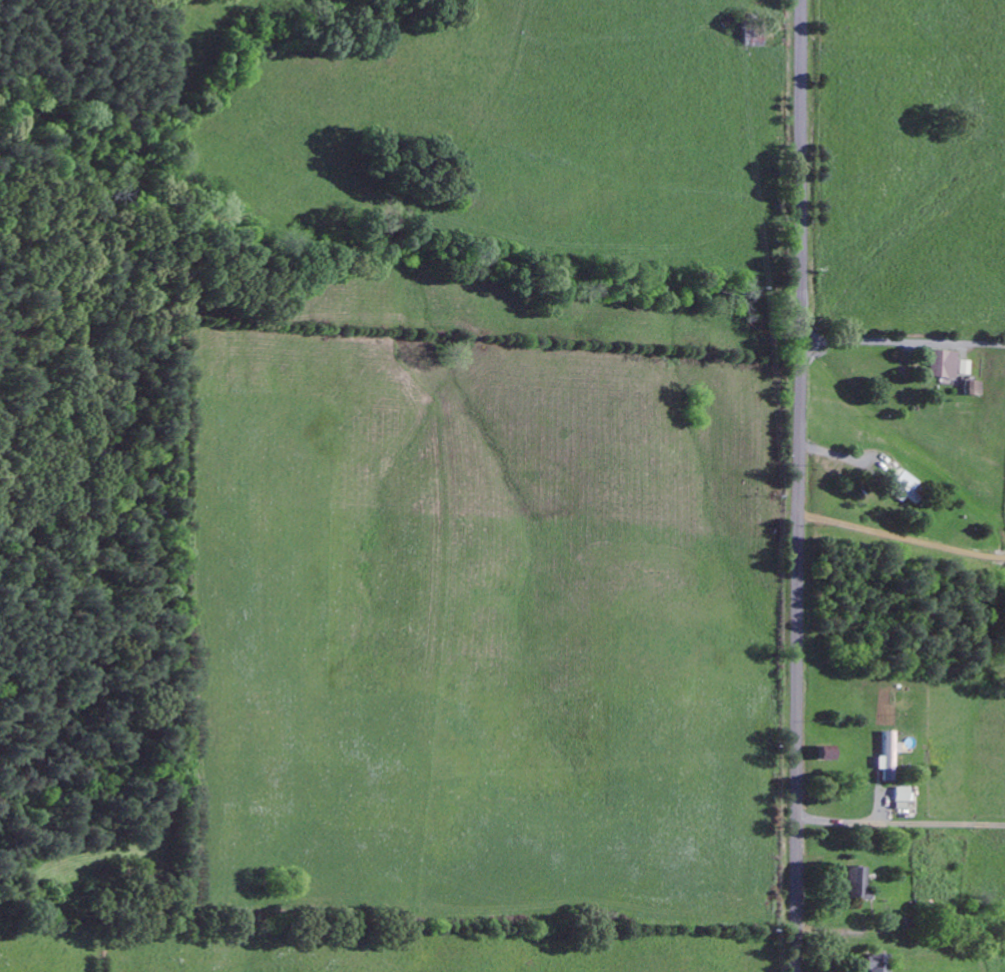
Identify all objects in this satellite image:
building: (942, 364)
building: (974, 387)
road: (796, 485)
building: (825, 752)
building: (885, 756)
building: (900, 794)
building: (854, 884)
building: (877, 963)

